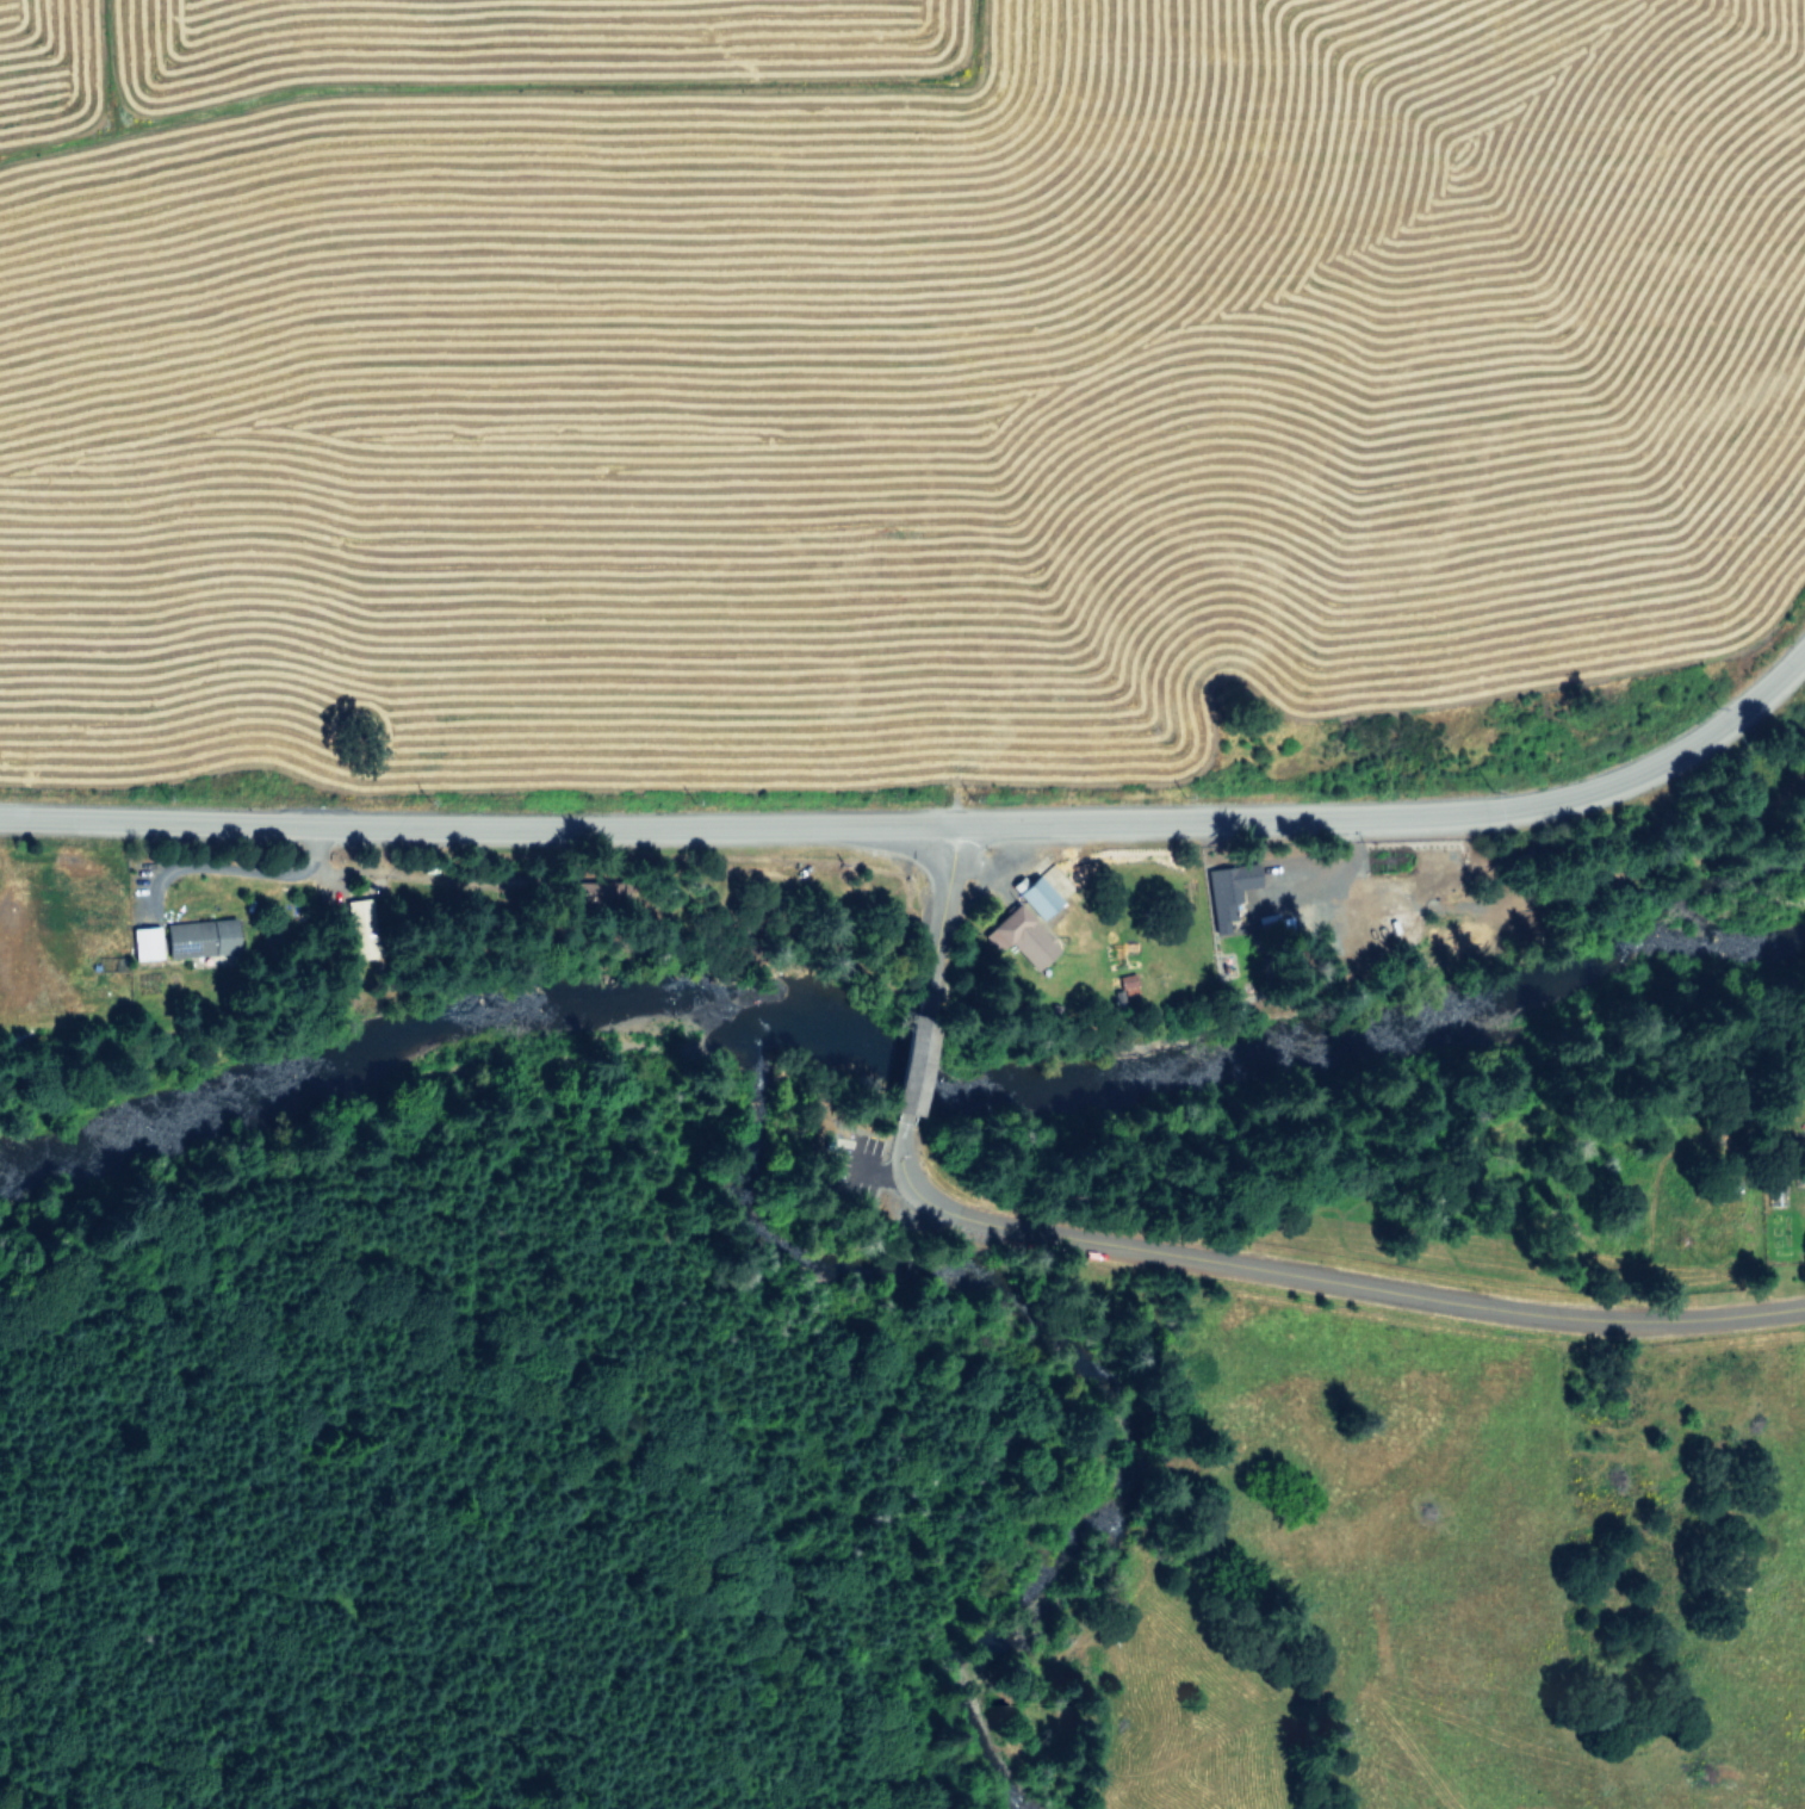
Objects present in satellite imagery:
crop: (891, 430)
road: (926, 824)
road: (240, 868)
building: (1229, 885)
building: (1037, 896)
road: (937, 919)
building: (359, 929)
building: (1021, 935)
building: (199, 937)
building: (143, 941)
building: (911, 1063)
road: (913, 1064)
road: (1316, 1275)

